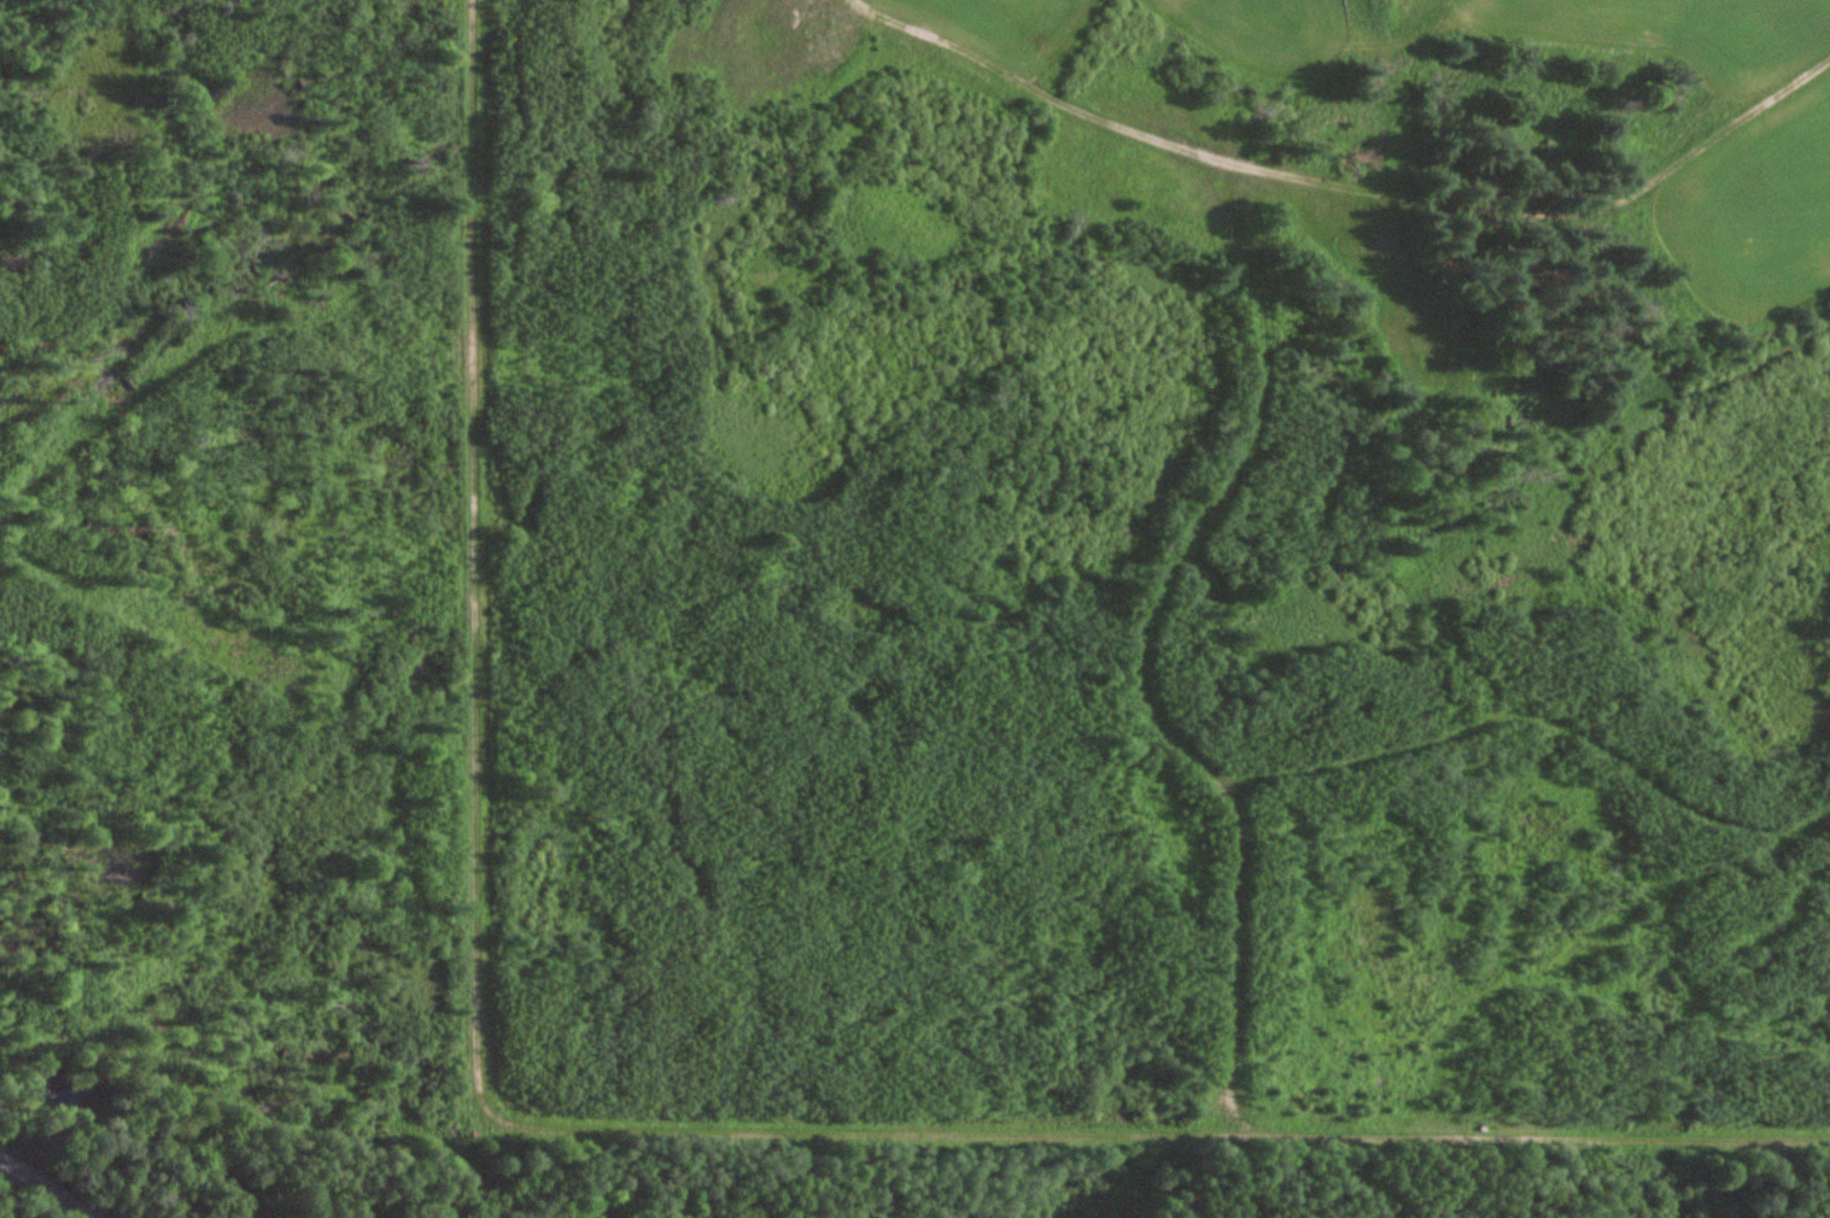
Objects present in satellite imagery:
road: (1355, 178)
road: (1144, 646)
road: (600, 1126)
railway: (48, 1187)

